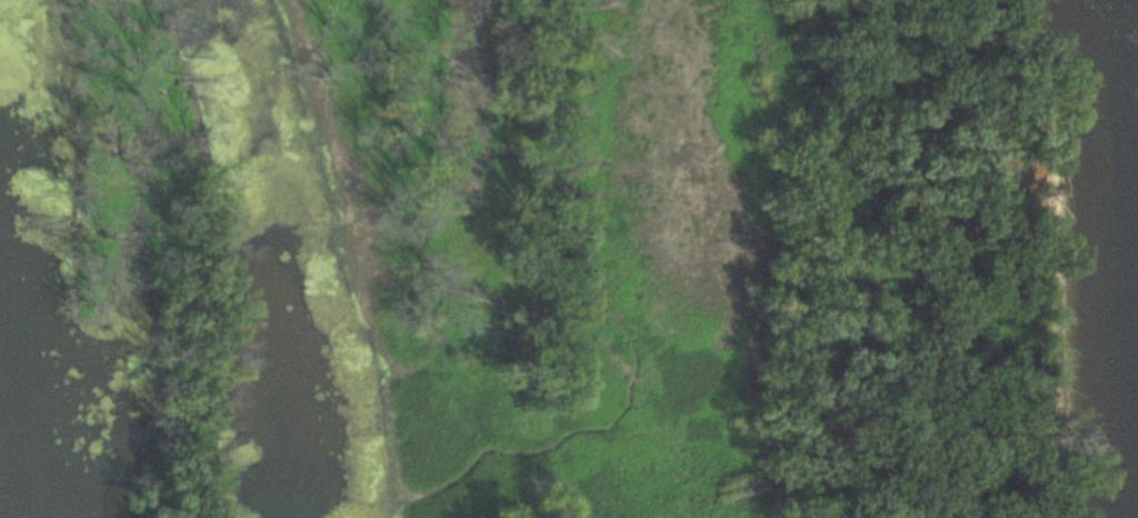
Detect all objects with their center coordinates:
river: (27, 482)

